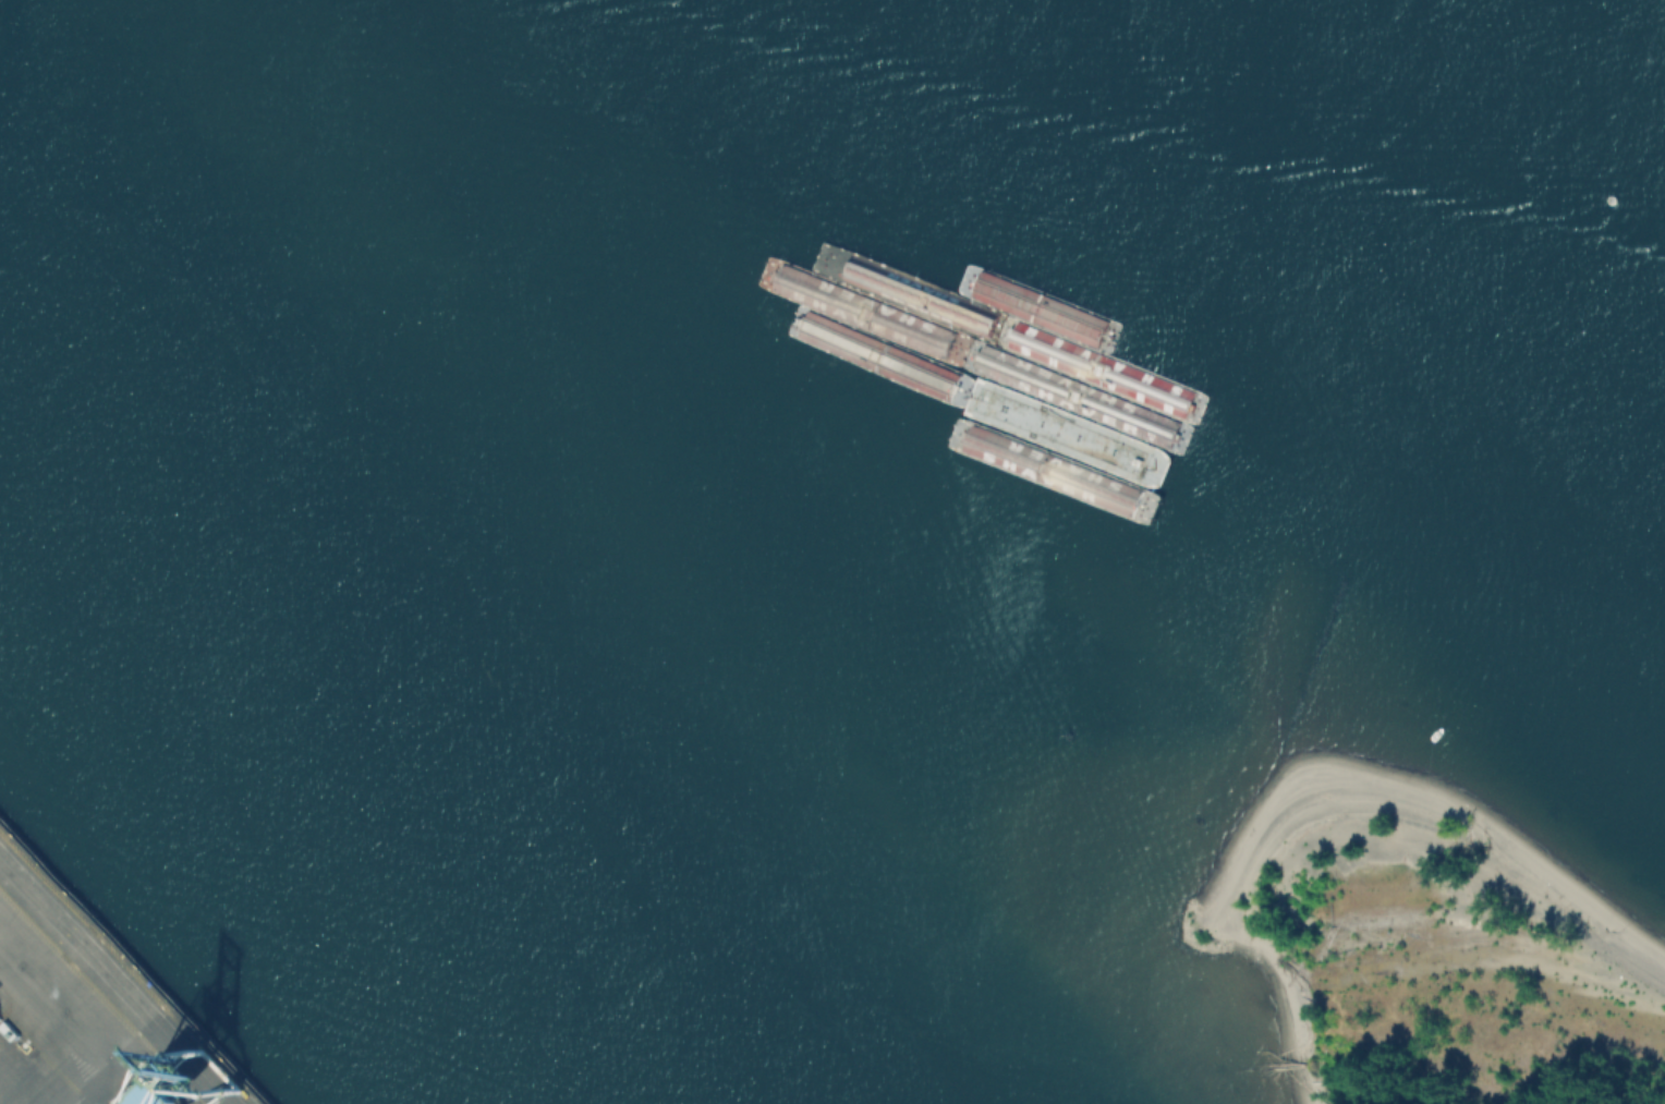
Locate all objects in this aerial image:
river: (1269, 165)
river: (934, 573)
railway: (126, 970)
railway: (100, 997)
road: (1445, 1065)

